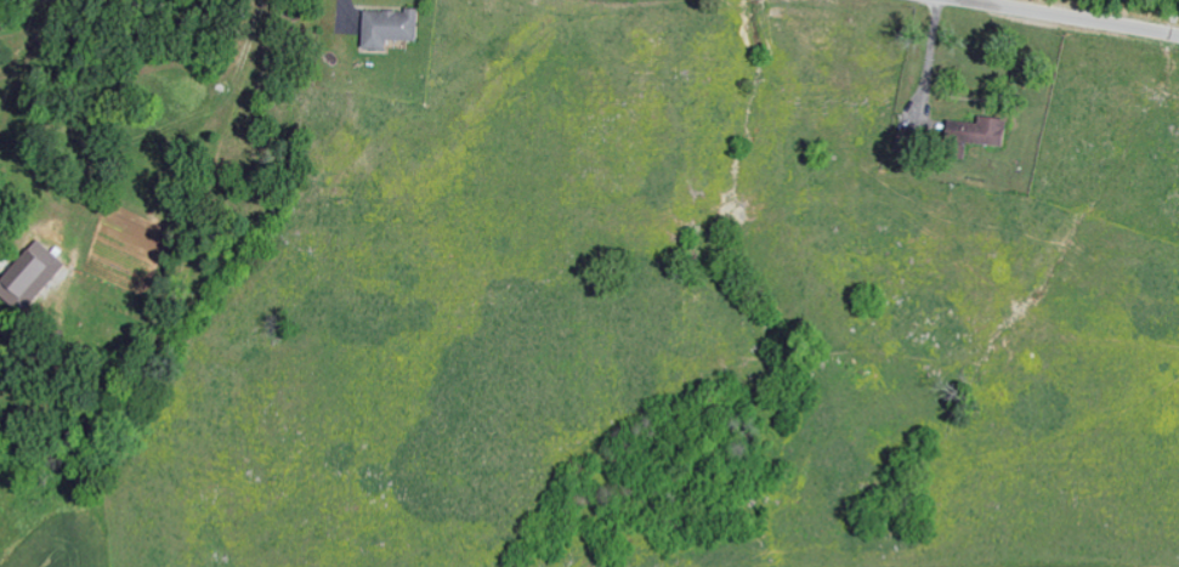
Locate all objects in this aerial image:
road: (1072, 17)
road: (341, 19)
building: (385, 27)
building: (969, 134)
building: (25, 276)

